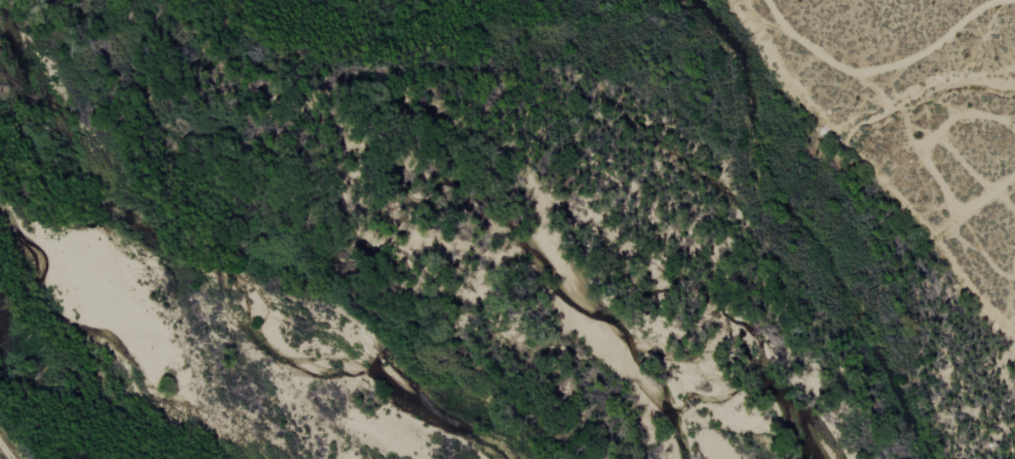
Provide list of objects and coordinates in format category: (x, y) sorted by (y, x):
river: (467, 229)

